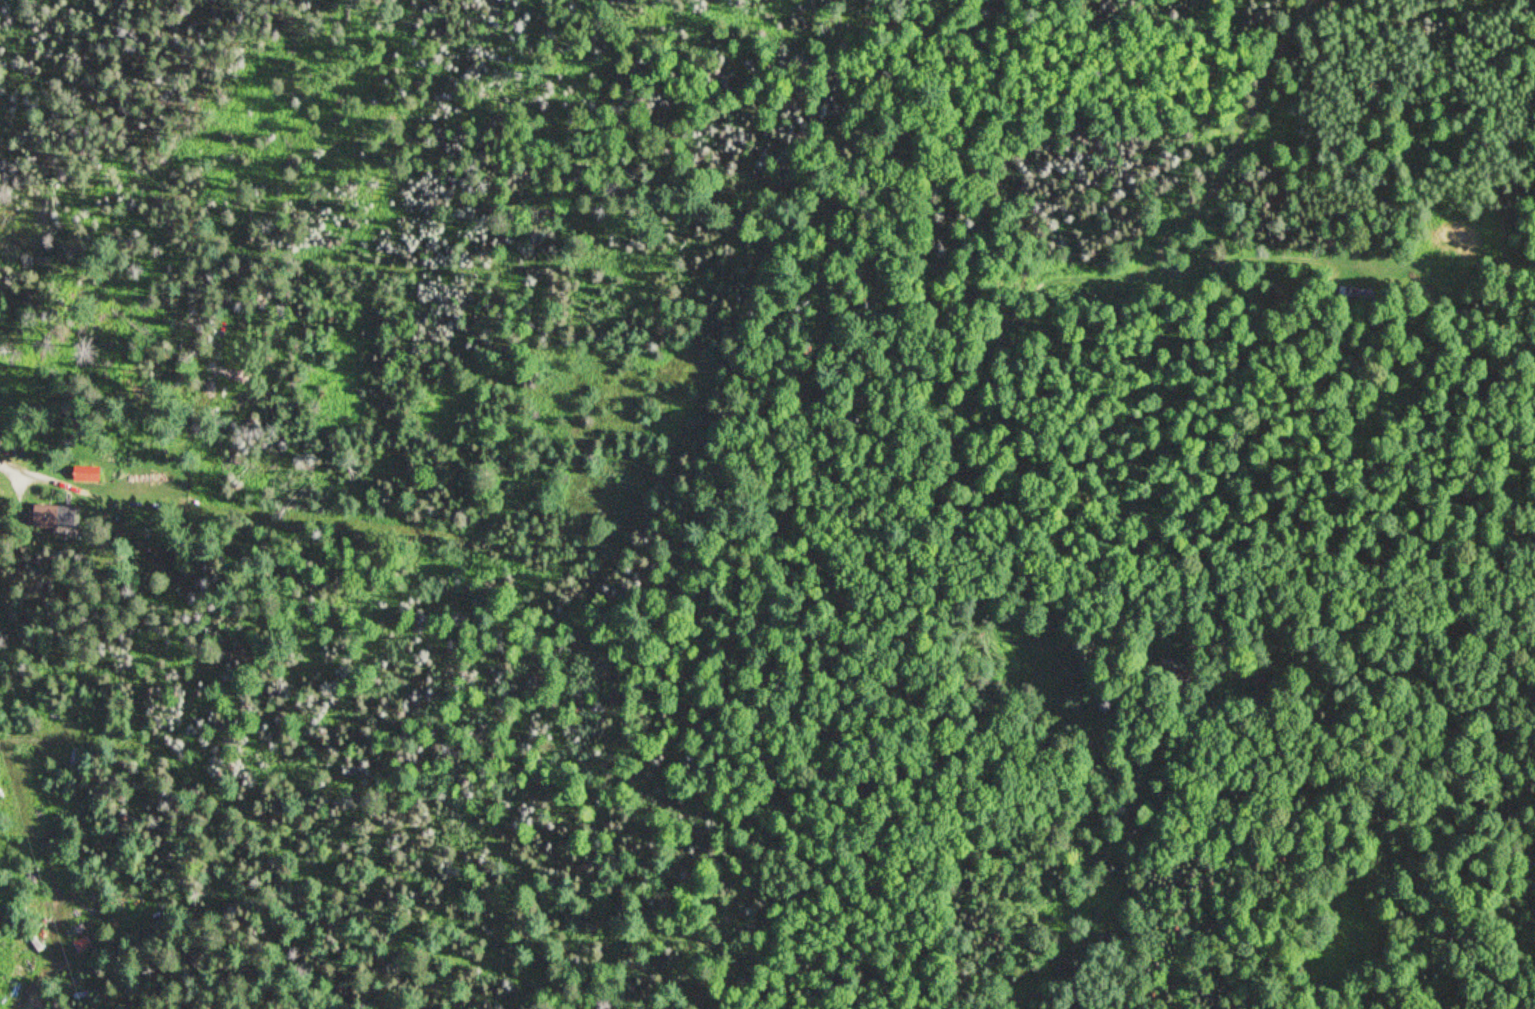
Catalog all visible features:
building: (1403, 275)
building: (1359, 292)
building: (82, 474)
road: (41, 476)
building: (52, 517)
building: (78, 944)
building: (26, 949)
road: (29, 978)

